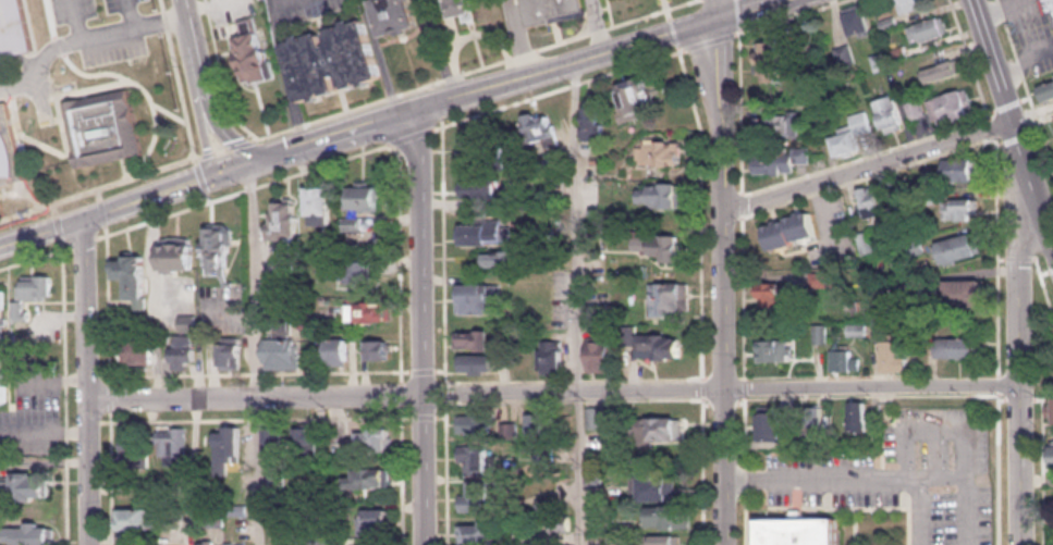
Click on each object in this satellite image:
building: (908, 4)
building: (1049, 4)
building: (462, 7)
road: (717, 7)
road: (740, 7)
parking lot: (307, 9)
building: (547, 9)
road: (666, 9)
road: (737, 12)
road: (131, 13)
road: (186, 13)
building: (396, 14)
road: (789, 15)
road: (78, 20)
building: (857, 22)
building: (887, 22)
road: (737, 23)
road: (600, 24)
building: (927, 27)
building: (14, 29)
road: (673, 32)
road: (736, 32)
road: (375, 36)
road: (475, 36)
road: (518, 37)
road: (85, 38)
road: (708, 40)
parking lot: (95, 46)
road: (612, 47)
road: (439, 49)
road: (281, 50)
building: (252, 52)
building: (898, 52)
building: (843, 54)
building: (332, 59)
building: (880, 60)
road: (969, 60)
building: (770, 67)
road: (475, 69)
building: (942, 70)
road: (93, 78)
building: (817, 78)
road: (115, 83)
road: (1025, 84)
road: (558, 89)
building: (1046, 90)
road: (392, 94)
road: (462, 95)
road: (436, 98)
building: (635, 99)
road: (212, 100)
road: (182, 101)
road: (198, 102)
building: (950, 107)
building: (915, 108)
building: (887, 111)
road: (1000, 112)
building: (593, 124)
building: (785, 124)
road: (301, 125)
building: (540, 125)
road: (992, 125)
road: (1013, 126)
building: (103, 127)
road: (17, 128)
road: (357, 129)
building: (850, 133)
road: (996, 133)
road: (418, 134)
road: (1009, 134)
road: (65, 140)
road: (240, 143)
road: (44, 144)
building: (9, 147)
road: (326, 149)
road: (220, 150)
building: (481, 151)
building: (660, 151)
road: (206, 153)
road: (272, 157)
building: (779, 160)
road: (867, 164)
traffic signals: (249, 165)
road: (125, 169)
building: (958, 169)
road: (872, 175)
road: (786, 179)
building: (479, 186)
road: (249, 187)
road: (99, 188)
road: (23, 190)
road: (97, 193)
road: (740, 193)
building: (663, 194)
building: (364, 196)
building: (868, 200)
building: (321, 202)
road: (740, 202)
road: (124, 205)
road: (53, 208)
building: (959, 208)
road: (702, 210)
road: (101, 211)
building: (284, 221)
building: (353, 222)
road: (57, 225)
building: (788, 230)
building: (486, 233)
building: (865, 240)
road: (83, 241)
building: (659, 245)
building: (218, 246)
building: (959, 246)
road: (443, 248)
building: (177, 252)
road: (997, 255)
road: (34, 256)
building: (504, 256)
road: (400, 260)
road: (1038, 267)
building: (351, 270)
building: (132, 277)
road: (724, 278)
building: (820, 278)
building: (277, 284)
building: (34, 286)
building: (965, 292)
road: (742, 295)
building: (770, 295)
building: (478, 297)
building: (669, 297)
road: (579, 301)
road: (108, 305)
building: (17, 309)
building: (375, 310)
road: (235, 314)
road: (421, 326)
building: (820, 332)
building: (479, 338)
building: (660, 345)
building: (2, 346)
building: (958, 347)
building: (378, 348)
building: (138, 349)
building: (774, 349)
building: (335, 350)
building: (182, 351)
building: (600, 351)
building: (282, 352)
road: (255, 354)
building: (551, 354)
road: (1019, 354)
building: (230, 355)
building: (894, 356)
building: (844, 359)
building: (477, 361)
road: (253, 372)
road: (421, 374)
road: (834, 374)
road: (91, 375)
road: (720, 376)
road: (570, 380)
road: (87, 381)
road: (436, 381)
road: (999, 383)
road: (702, 387)
road: (744, 387)
road: (553, 389)
road: (445, 391)
road: (64, 392)
road: (401, 393)
road: (870, 394)
road: (109, 397)
road: (723, 398)
road: (571, 399)
road: (424, 408)
road: (402, 409)
building: (1050, 410)
road: (405, 414)
building: (858, 416)
building: (596, 417)
road: (249, 419)
road: (93, 421)
building: (538, 423)
building: (770, 424)
building: (477, 426)
building: (657, 428)
building: (510, 430)
road: (745, 431)
road: (965, 435)
building: (372, 436)
building: (308, 437)
building: (274, 439)
building: (172, 444)
building: (224, 444)
building: (338, 449)
building: (133, 451)
building: (1052, 455)
building: (473, 458)
road: (999, 468)
road: (1044, 470)
road: (446, 471)
road: (702, 471)
parking lot: (906, 472)
road: (111, 476)
building: (367, 476)
road: (746, 476)
building: (589, 478)
road: (815, 478)
road: (403, 480)
road: (796, 481)
building: (25, 485)
building: (653, 486)
building: (473, 496)
building: (544, 500)
road: (796, 501)
road: (921, 503)
road: (838, 506)
road: (909, 510)
building: (668, 516)
building: (135, 517)
road: (746, 517)
building: (372, 520)
building: (561, 523)
road: (856, 525)
building: (798, 532)
building: (27, 533)
building: (474, 533)
building: (663, 540)
building: (235, 543)
building: (206, 544)

